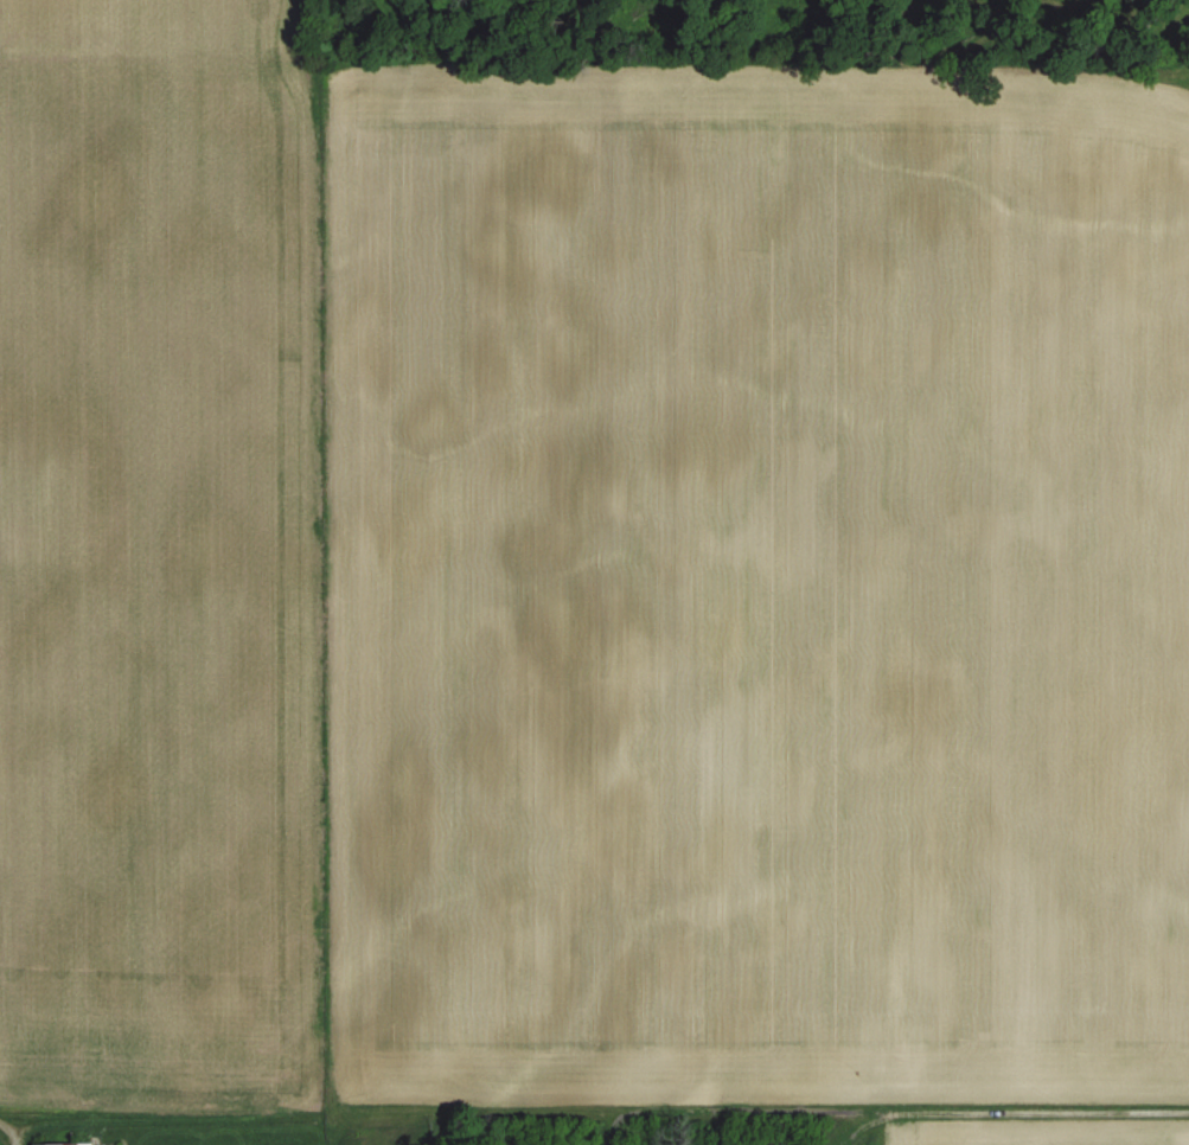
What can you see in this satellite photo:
road: (12, 1121)
building: (62, 1144)

